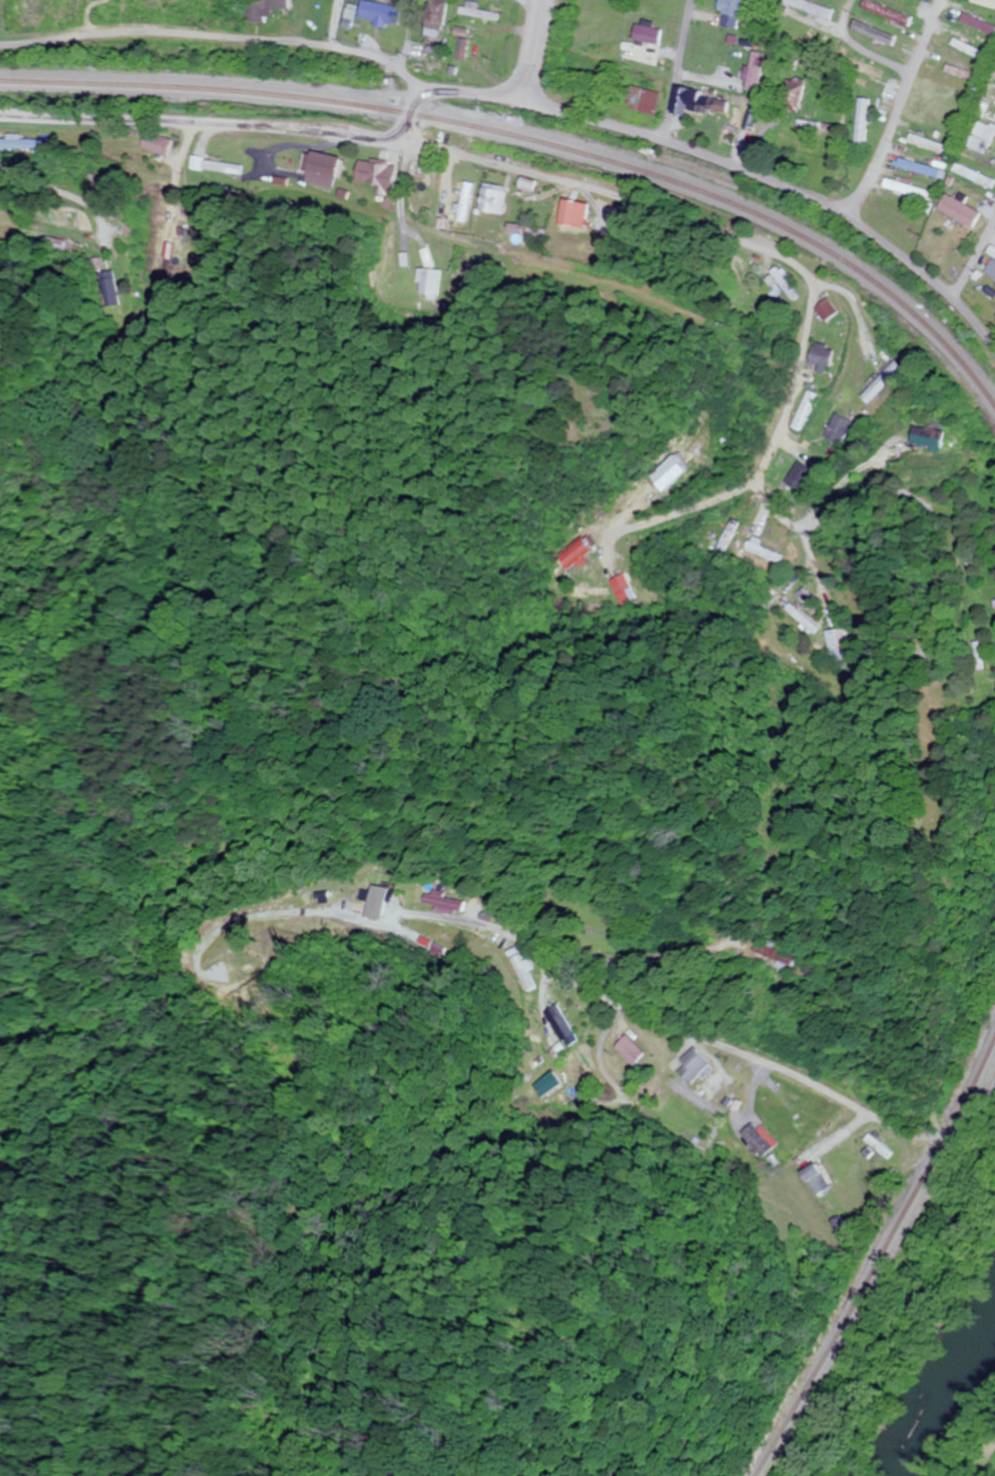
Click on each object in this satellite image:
building: (918, 0)
building: (986, 2)
building: (814, 7)
building: (262, 9)
building: (478, 11)
building: (379, 12)
building: (436, 13)
building: (733, 13)
building: (890, 13)
road: (334, 23)
building: (980, 23)
building: (876, 32)
road: (404, 34)
building: (647, 34)
building: (458, 44)
building: (969, 44)
road: (863, 47)
road: (528, 51)
building: (422, 68)
building: (755, 72)
road: (676, 73)
building: (867, 73)
building: (964, 73)
building: (947, 94)
building: (643, 100)
building: (702, 103)
road: (527, 106)
road: (898, 108)
road: (754, 112)
road: (411, 120)
building: (862, 123)
building: (733, 129)
building: (983, 137)
road: (324, 141)
building: (928, 143)
building: (14, 144)
building: (157, 144)
railway: (536, 146)
building: (228, 160)
building: (323, 166)
building: (918, 167)
building: (375, 175)
building: (975, 175)
building: (907, 189)
building: (494, 199)
building: (959, 209)
building: (575, 214)
road: (192, 232)
road: (973, 259)
road: (613, 267)
building: (430, 283)
building: (782, 284)
building: (108, 289)
road: (808, 299)
building: (823, 310)
building: (818, 357)
building: (880, 383)
building: (801, 411)
building: (836, 429)
building: (927, 438)
building: (799, 477)
building: (764, 550)
building: (629, 589)
building: (594, 592)
building: (804, 619)
building: (838, 644)
building: (972, 655)
building: (761, 956)
building: (561, 1026)
building: (631, 1050)
building: (693, 1066)
road: (814, 1086)
building: (559, 1087)
building: (761, 1140)
building: (874, 1144)
building: (815, 1180)
railway: (875, 1253)
river: (944, 1400)

